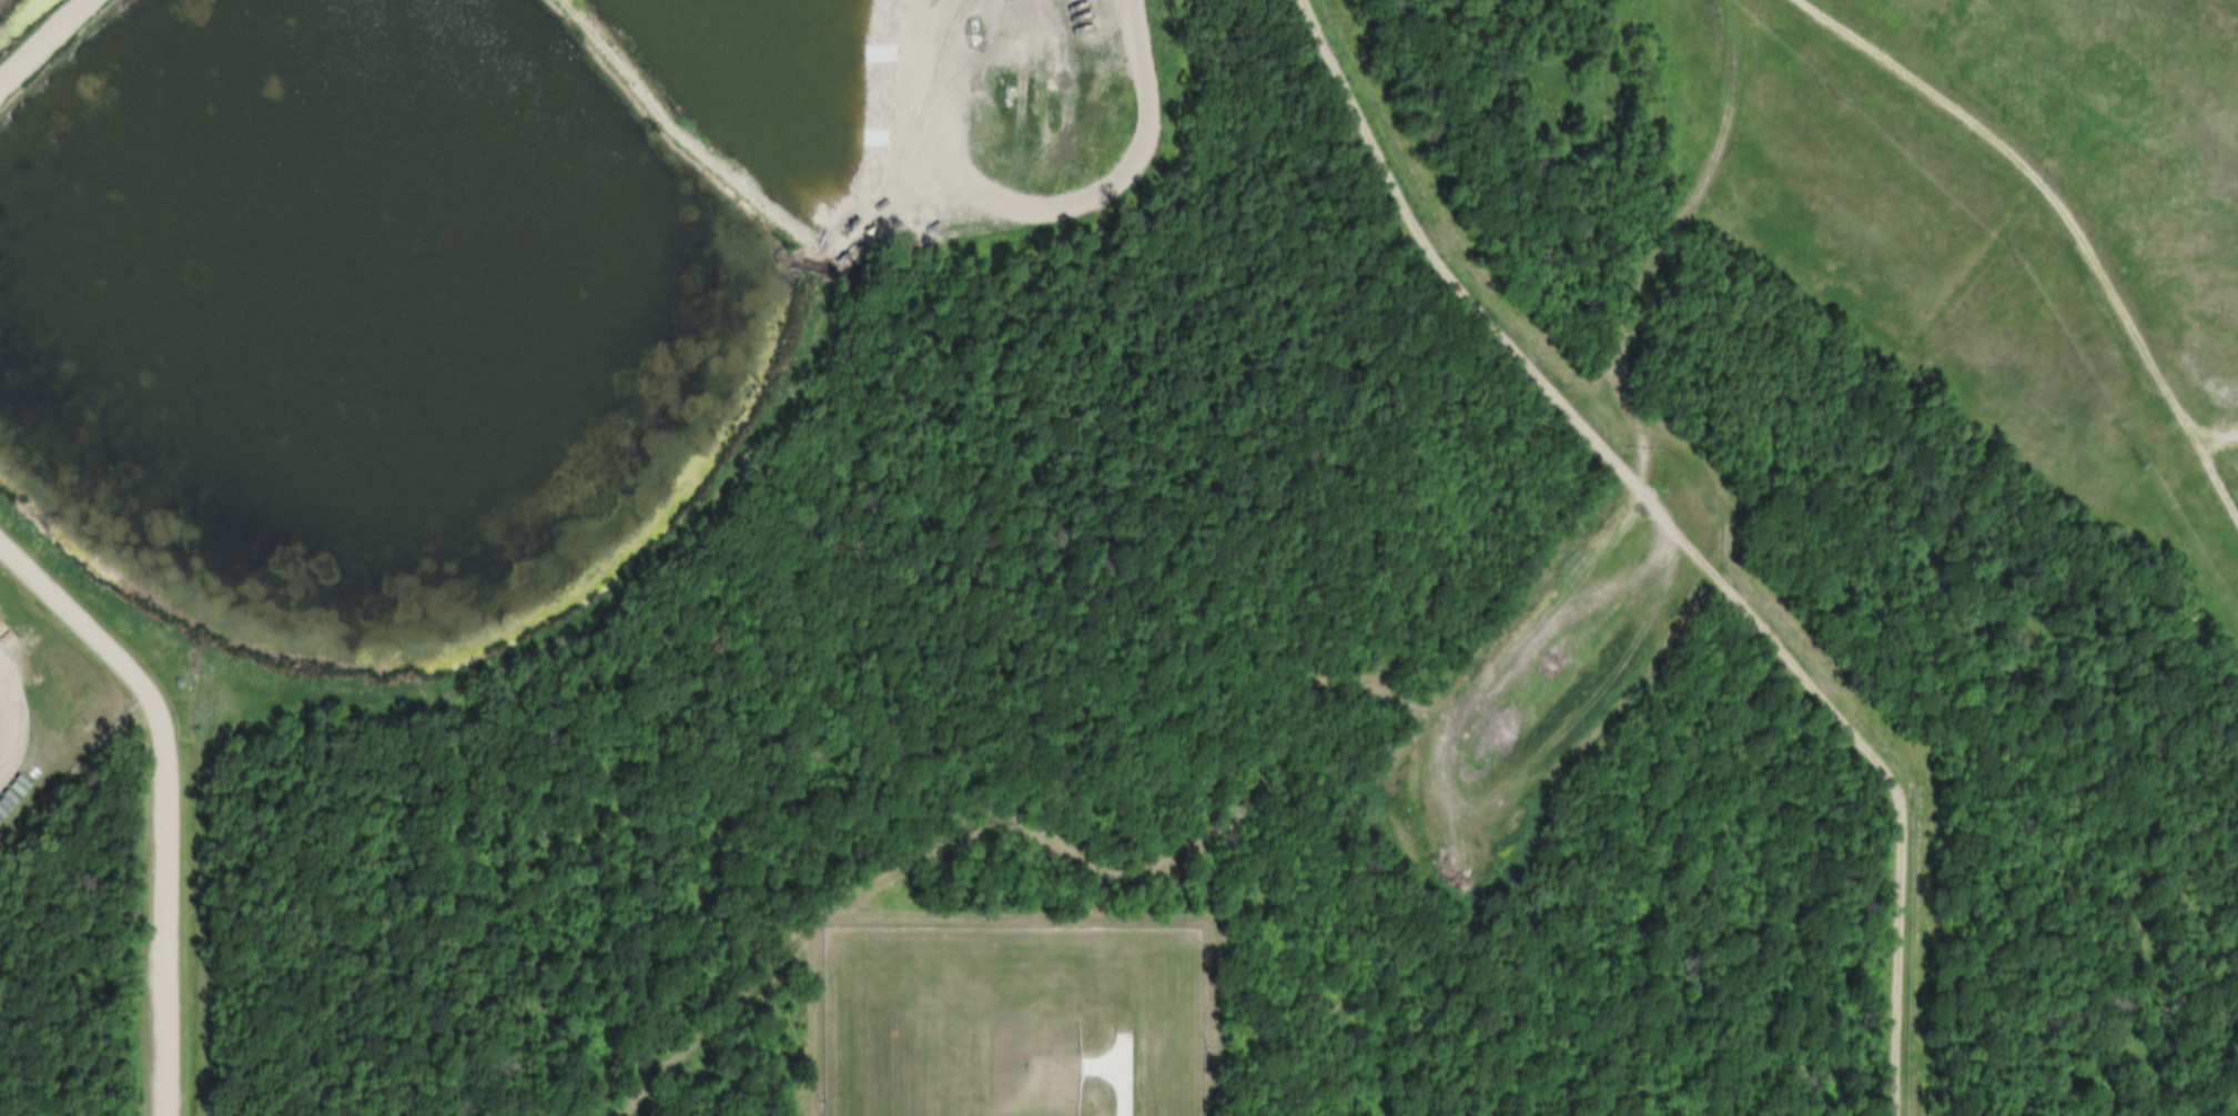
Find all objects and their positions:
road: (42, 41)
road: (1704, 185)
road: (2070, 209)
road: (2220, 436)
road: (172, 793)
road: (1162, 856)
building: (1031, 1065)
road: (1117, 1076)
building: (1029, 1113)

